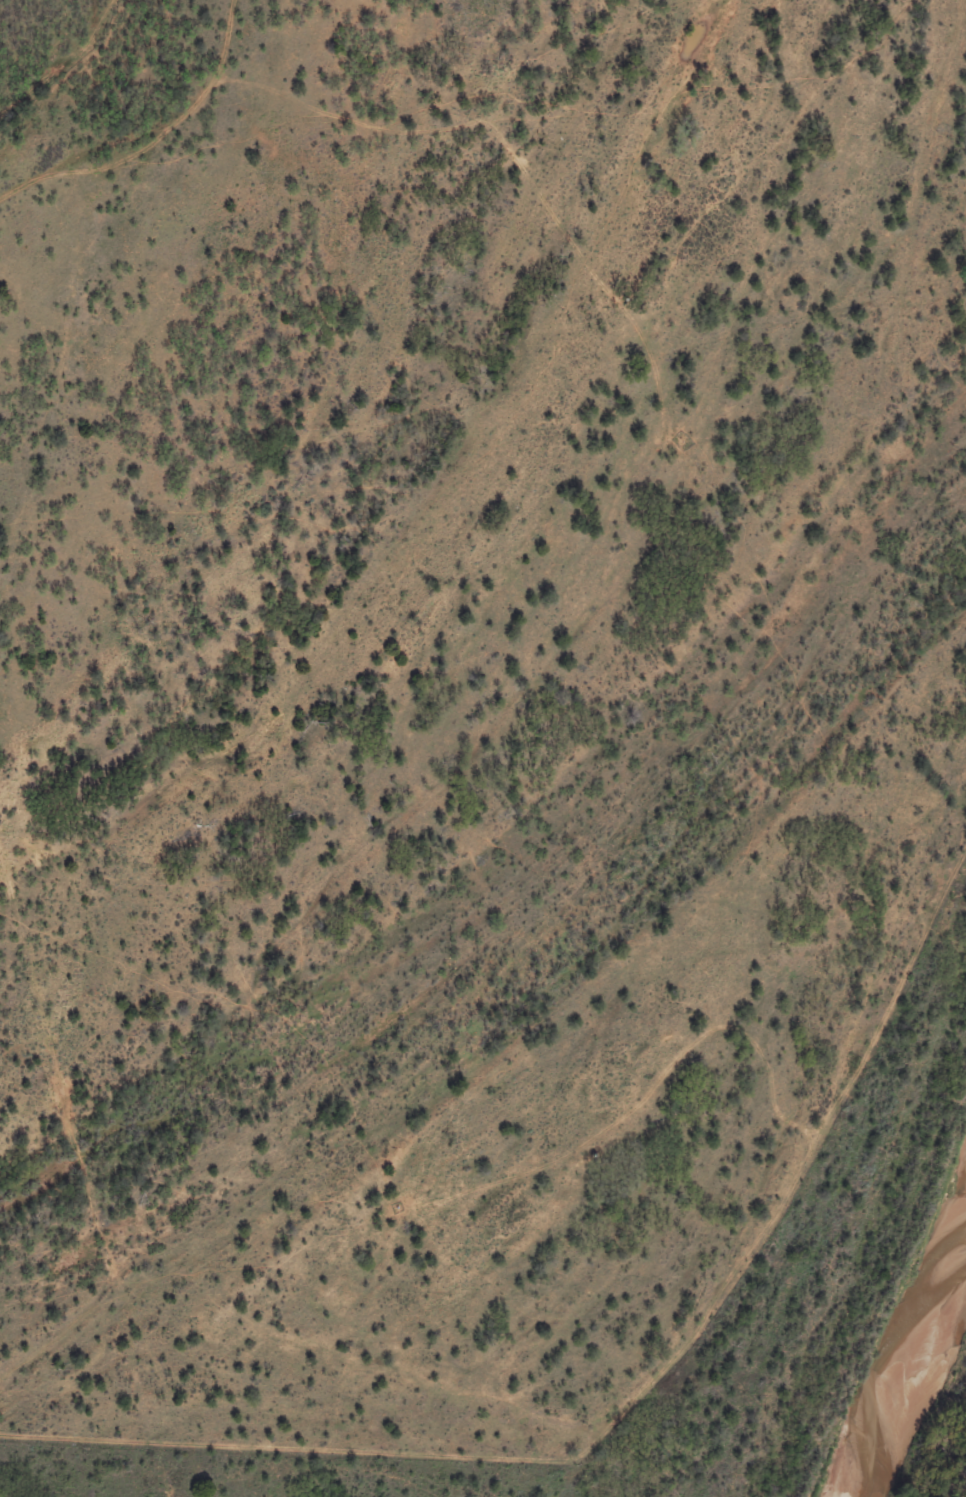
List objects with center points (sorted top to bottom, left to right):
river: (919, 1384)

